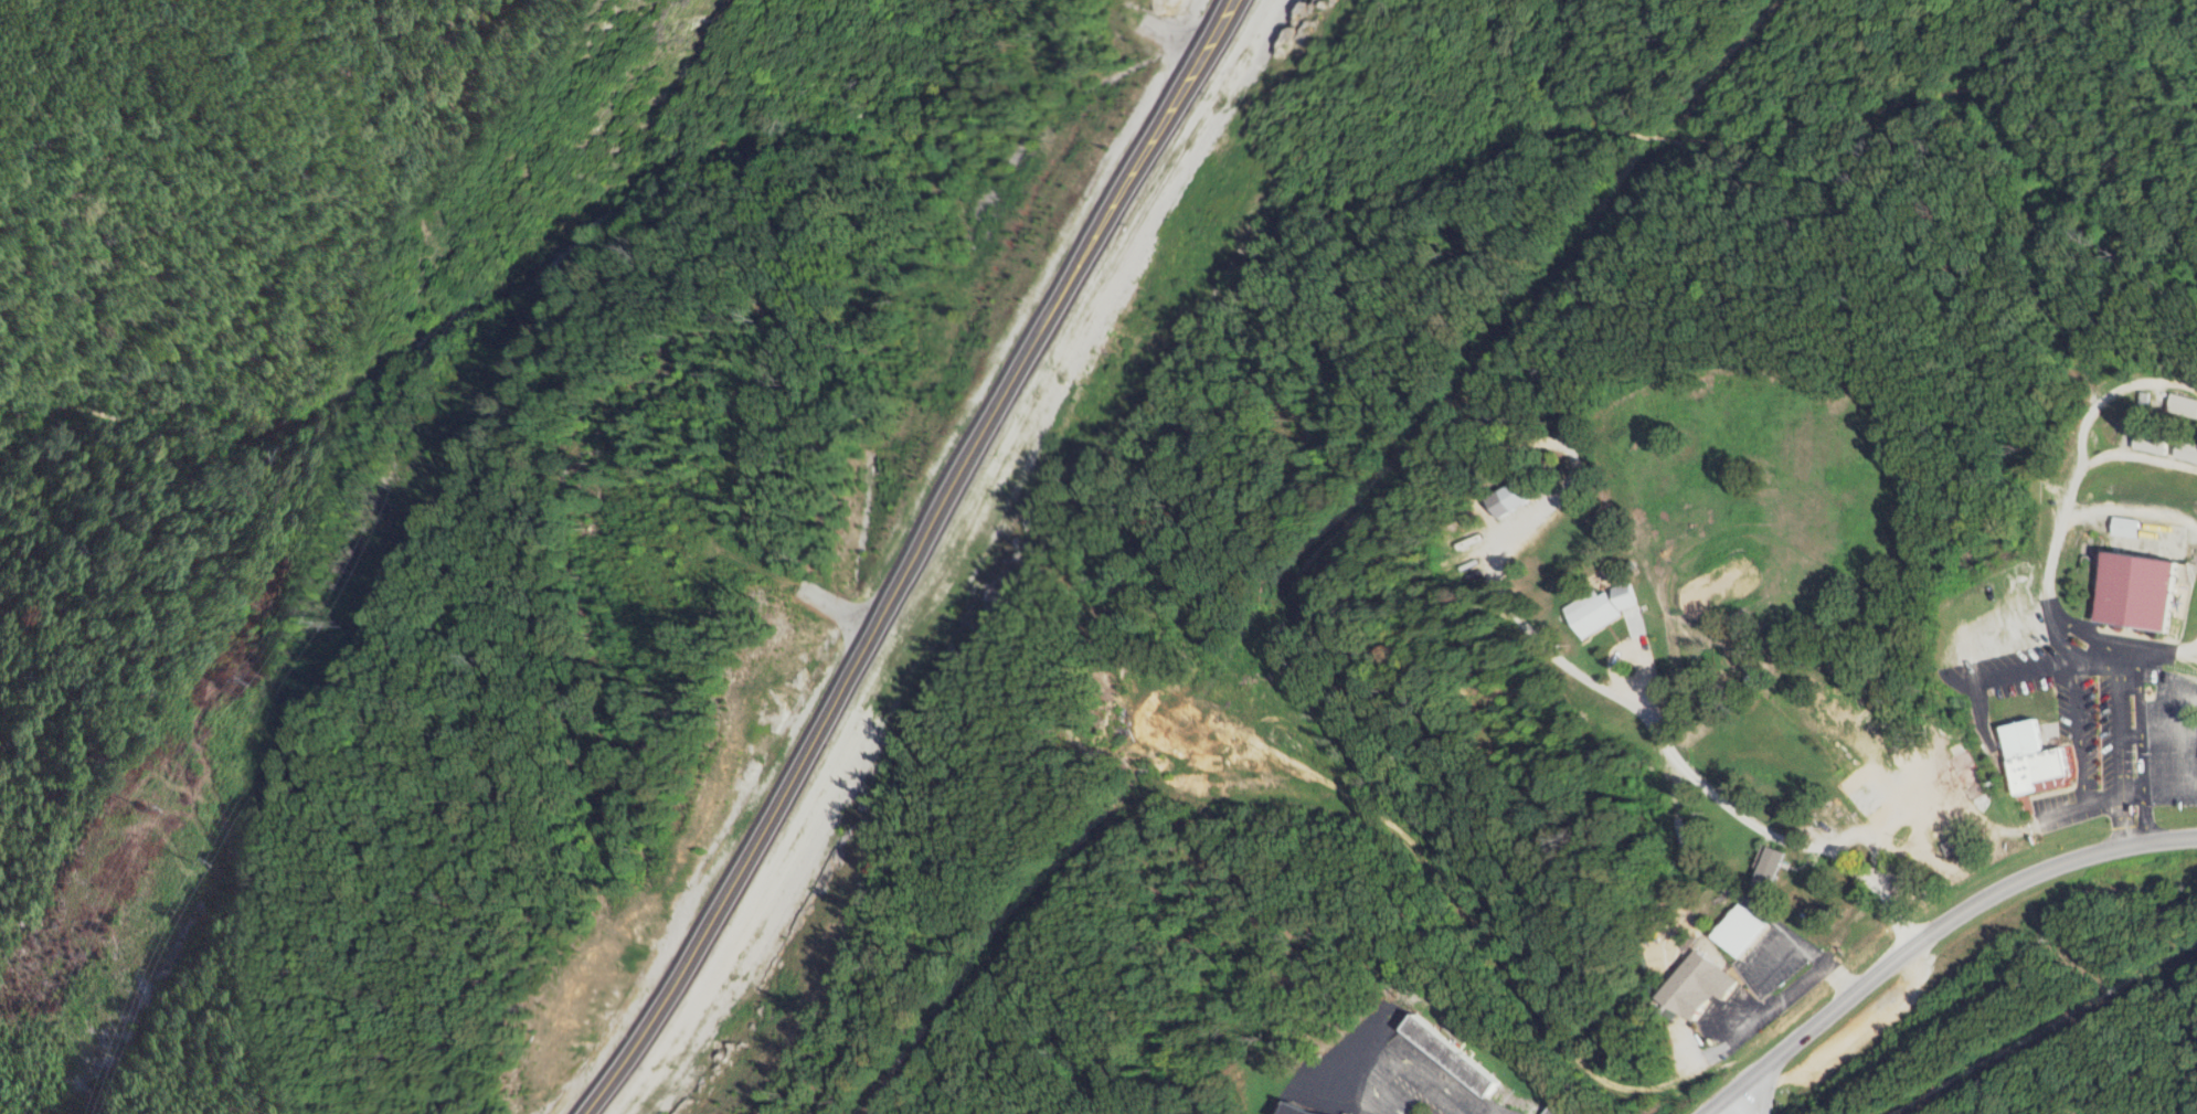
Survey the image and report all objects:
building: (2184, 405)
building: (2158, 443)
building: (2189, 450)
road: (2101, 459)
building: (1514, 497)
building: (2130, 528)
road: (908, 560)
road: (2052, 576)
building: (2144, 592)
building: (1604, 607)
power tower: (340, 620)
road: (2094, 637)
road: (2166, 657)
power tower: (220, 680)
road: (2125, 711)
road: (2081, 746)
road: (2144, 756)
building: (2038, 758)
road: (1676, 779)
power tower: (141, 811)
power tower: (189, 860)
building: (1775, 867)
building: (1745, 929)
road: (1930, 932)
road: (1777, 959)
building: (1706, 984)
building: (1458, 1054)
road: (1750, 1097)
building: (1560, 1110)
building: (1308, 1111)

